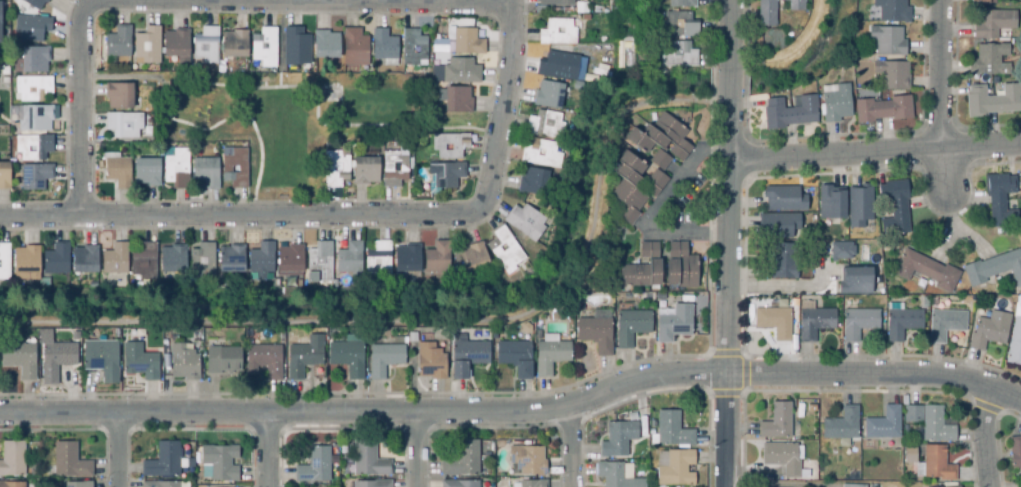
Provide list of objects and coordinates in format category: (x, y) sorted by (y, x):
building: (982, 0)
road: (193, 2)
building: (34, 3)
building: (555, 3)
building: (682, 4)
building: (581, 5)
building: (891, 10)
building: (776, 11)
building: (585, 15)
building: (681, 25)
building: (993, 25)
building: (31, 27)
building: (558, 34)
road: (729, 34)
building: (886, 39)
building: (628, 40)
building: (118, 43)
building: (467, 43)
building: (176, 44)
building: (206, 45)
building: (235, 46)
building: (147, 47)
building: (263, 47)
building: (327, 47)
building: (296, 48)
building: (384, 48)
building: (356, 49)
building: (413, 49)
building: (606, 50)
building: (679, 56)
building: (31, 59)
building: (990, 61)
building: (558, 67)
building: (464, 72)
road: (939, 73)
building: (892, 75)
road: (730, 82)
building: (32, 87)
building: (548, 95)
building: (119, 97)
building: (458, 101)
building: (994, 101)
building: (835, 103)
building: (881, 108)
building: (790, 114)
building: (33, 117)
park: (291, 118)
building: (125, 126)
building: (546, 126)
building: (659, 136)
building: (327, 147)
building: (449, 147)
building: (43, 148)
road: (874, 151)
building: (540, 153)
building: (658, 159)
building: (235, 169)
road: (942, 170)
building: (176, 171)
building: (336, 171)
building: (395, 171)
building: (119, 172)
building: (367, 172)
building: (3, 174)
building: (147, 174)
building: (35, 175)
building: (206, 175)
building: (447, 177)
building: (653, 182)
building: (533, 183)
building: (627, 186)
building: (783, 198)
building: (1001, 202)
building: (833, 204)
road: (653, 208)
building: (895, 208)
building: (861, 209)
road: (345, 215)
building: (527, 223)
building: (780, 224)
building: (648, 249)
building: (504, 250)
building: (842, 252)
building: (378, 259)
building: (408, 259)
building: (438, 259)
building: (56, 260)
building: (115, 260)
building: (349, 260)
building: (474, 260)
building: (85, 261)
building: (173, 261)
building: (232, 261)
building: (262, 261)
building: (290, 262)
building: (4, 263)
building: (27, 263)
building: (203, 263)
building: (785, 263)
building: (144, 264)
building: (319, 264)
building: (681, 267)
building: (993, 269)
building: (924, 270)
building: (639, 273)
building: (857, 282)
building: (44, 285)
road: (782, 288)
road: (728, 291)
building: (774, 323)
building: (815, 323)
road: (433, 324)
building: (860, 324)
building: (903, 324)
building: (675, 325)
building: (946, 325)
building: (631, 328)
building: (990, 331)
building: (596, 335)
building: (413, 338)
building: (1015, 344)
building: (53, 356)
building: (468, 357)
building: (222, 358)
building: (305, 358)
building: (516, 358)
building: (551, 358)
building: (263, 359)
building: (348, 359)
building: (19, 360)
building: (102, 360)
building: (385, 360)
building: (183, 362)
building: (140, 363)
building: (431, 363)
building: (810, 407)
road: (516, 409)
building: (912, 413)
building: (776, 420)
building: (883, 423)
building: (841, 424)
building: (935, 425)
building: (671, 428)
building: (904, 428)
road: (982, 436)
building: (617, 438)
road: (569, 446)
road: (117, 449)
road: (266, 449)
road: (416, 449)
building: (1015, 451)
building: (909, 453)
building: (782, 456)
building: (12, 458)
building: (368, 458)
building: (462, 459)
building: (527, 459)
building: (162, 460)
building: (67, 461)
building: (220, 461)
building: (936, 463)
building: (314, 465)
building: (676, 468)
building: (617, 474)
building: (11, 483)
building: (371, 483)
building: (459, 483)
building: (530, 483)
building: (77, 484)
building: (159, 484)
building: (852, 485)
building: (950, 486)

